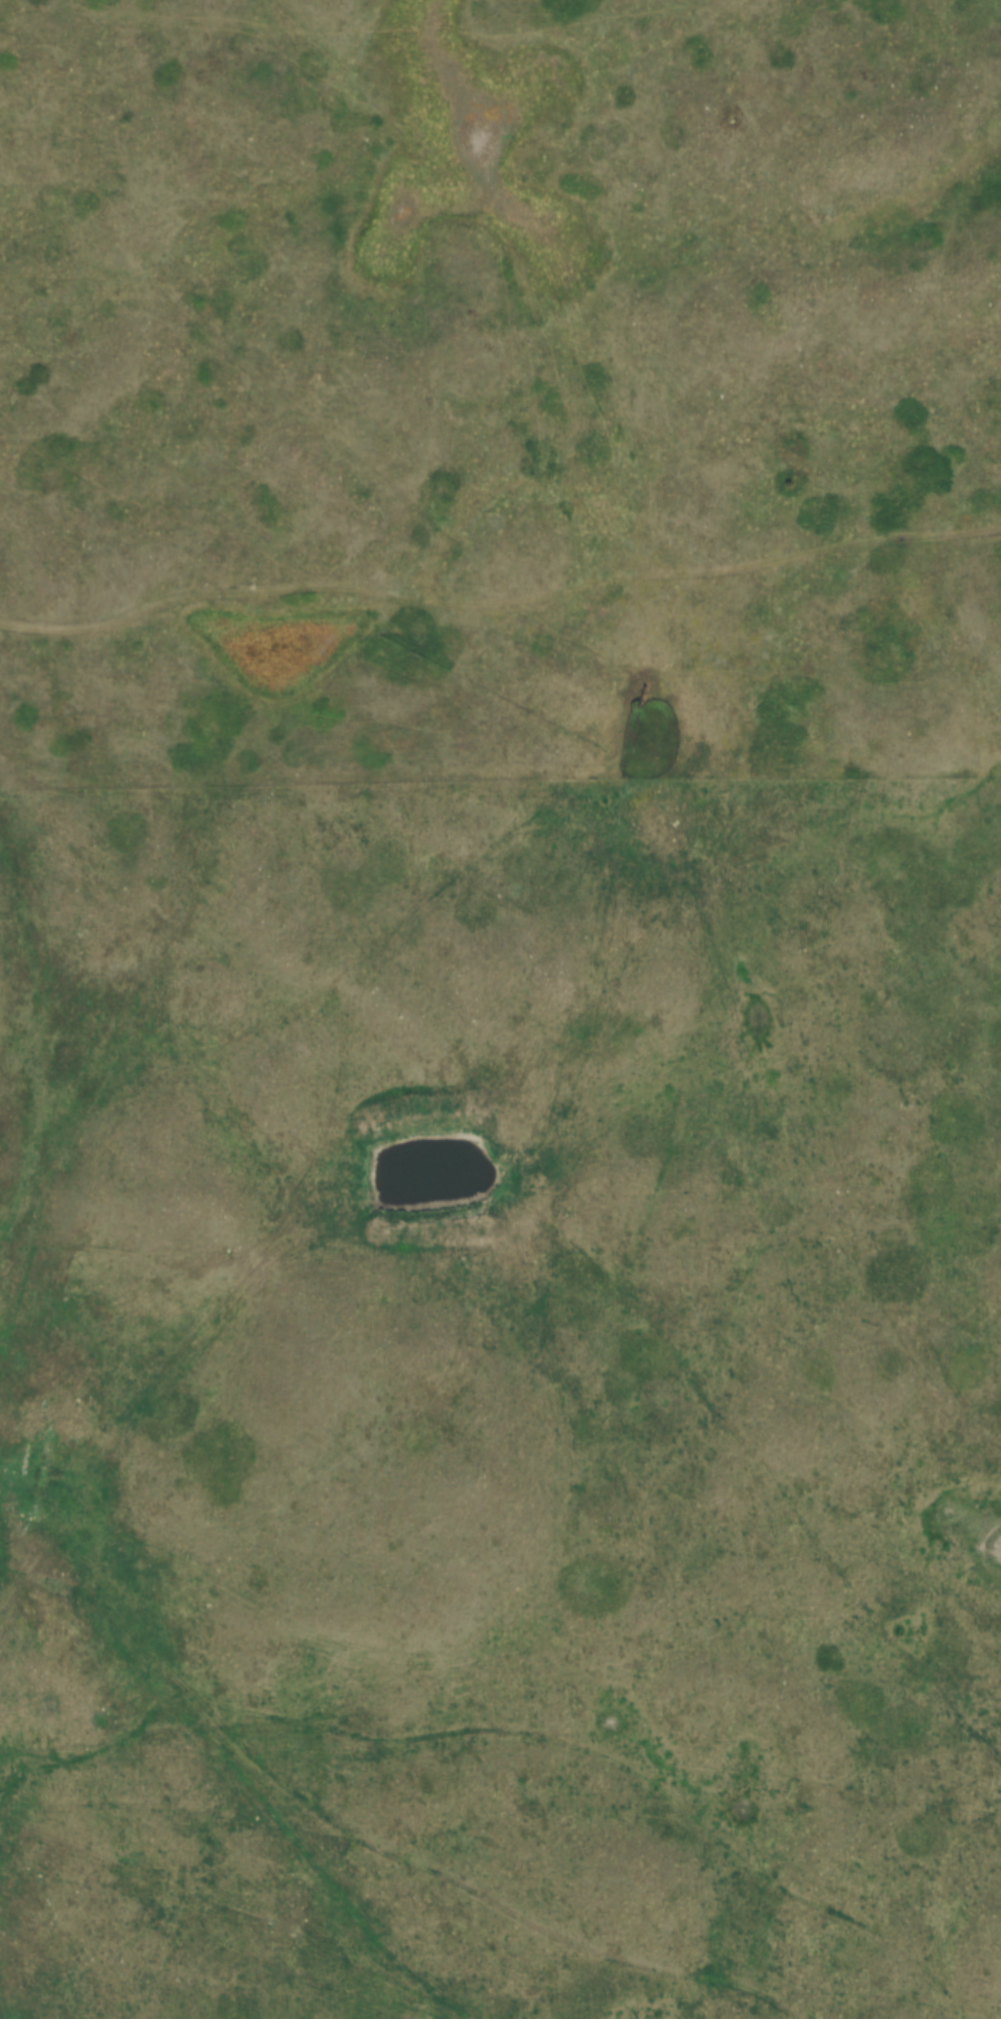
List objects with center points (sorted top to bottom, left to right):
road: (499, 602)
road: (416, 1784)

